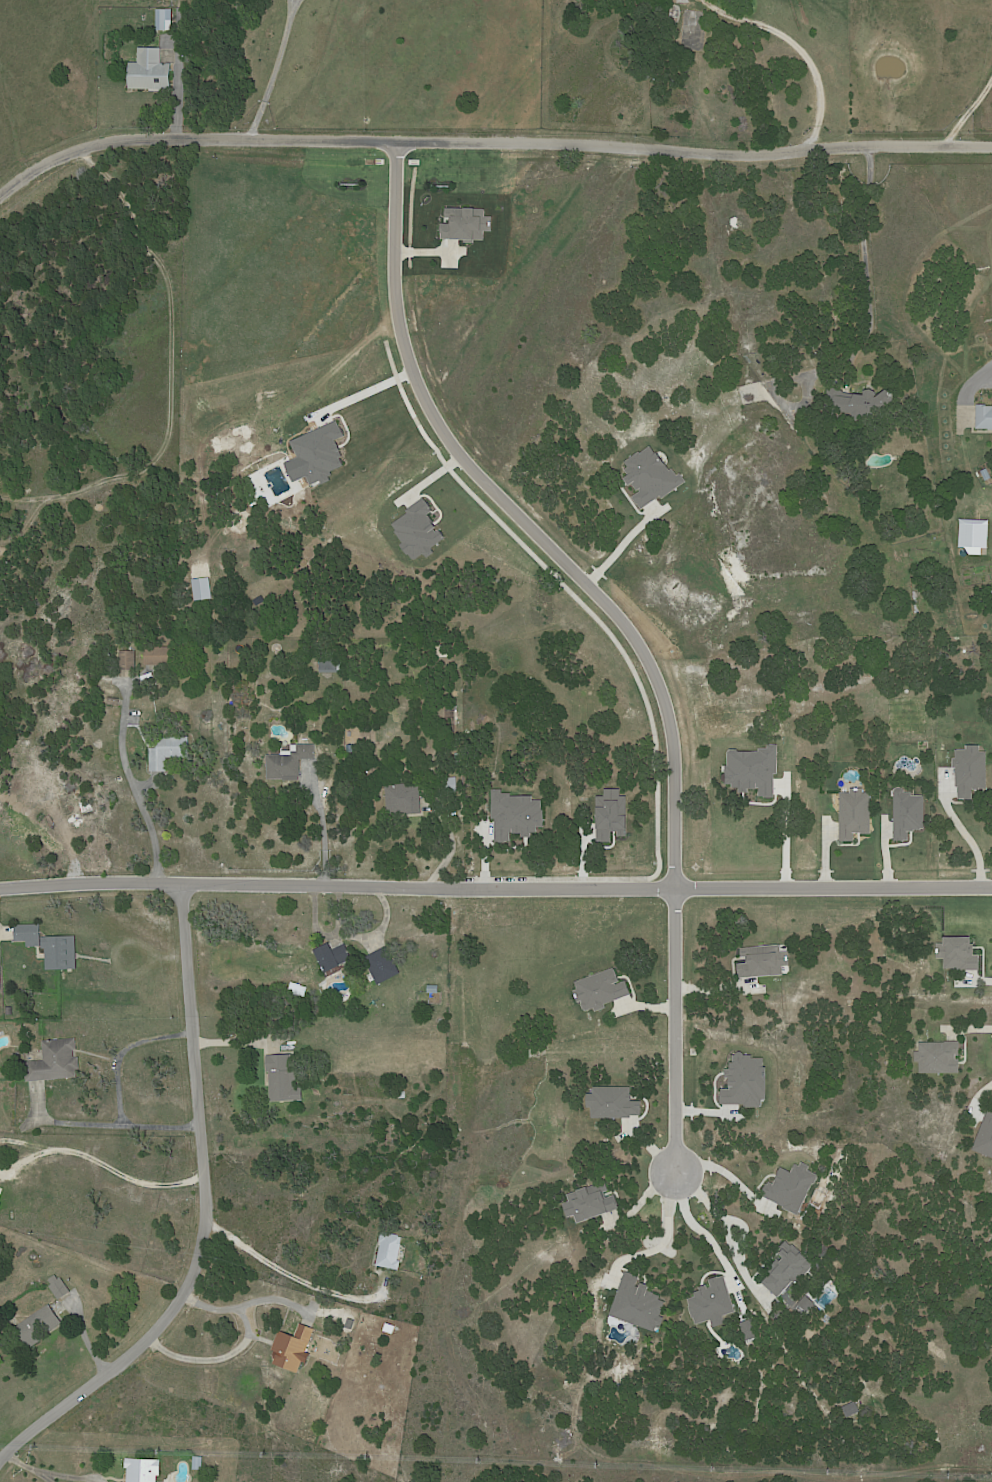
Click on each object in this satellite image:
building: (164, 19)
road: (801, 50)
road: (275, 68)
building: (149, 70)
road: (968, 108)
road: (489, 138)
road: (861, 252)
road: (374, 396)
building: (860, 404)
building: (983, 417)
road: (630, 548)
building: (774, 592)
building: (947, 619)
road: (630, 623)
building: (161, 655)
building: (128, 659)
building: (330, 662)
building: (113, 701)
building: (168, 751)
building: (458, 759)
building: (288, 761)
road: (131, 781)
building: (404, 798)
road: (329, 824)
road: (973, 837)
road: (451, 838)
road: (788, 841)
road: (495, 885)
building: (395, 930)
road: (351, 934)
building: (28, 935)
building: (60, 952)
building: (331, 956)
building: (382, 965)
building: (0, 982)
building: (300, 988)
building: (432, 990)
building: (9, 1011)
road: (237, 1041)
road: (125, 1052)
building: (54, 1061)
building: (283, 1079)
building: (402, 1094)
road: (121, 1124)
road: (109, 1167)
road: (202, 1172)
building: (0, 1187)
building: (0, 1190)
road: (726, 1223)
road: (708, 1230)
road: (673, 1237)
building: (389, 1251)
road: (288, 1271)
building: (58, 1288)
road: (282, 1299)
building: (40, 1323)
road: (246, 1347)
building: (293, 1348)
road: (27, 1432)
road: (27, 1461)
building: (198, 1464)
building: (142, 1470)
road: (75, 1475)
road: (52, 1478)

